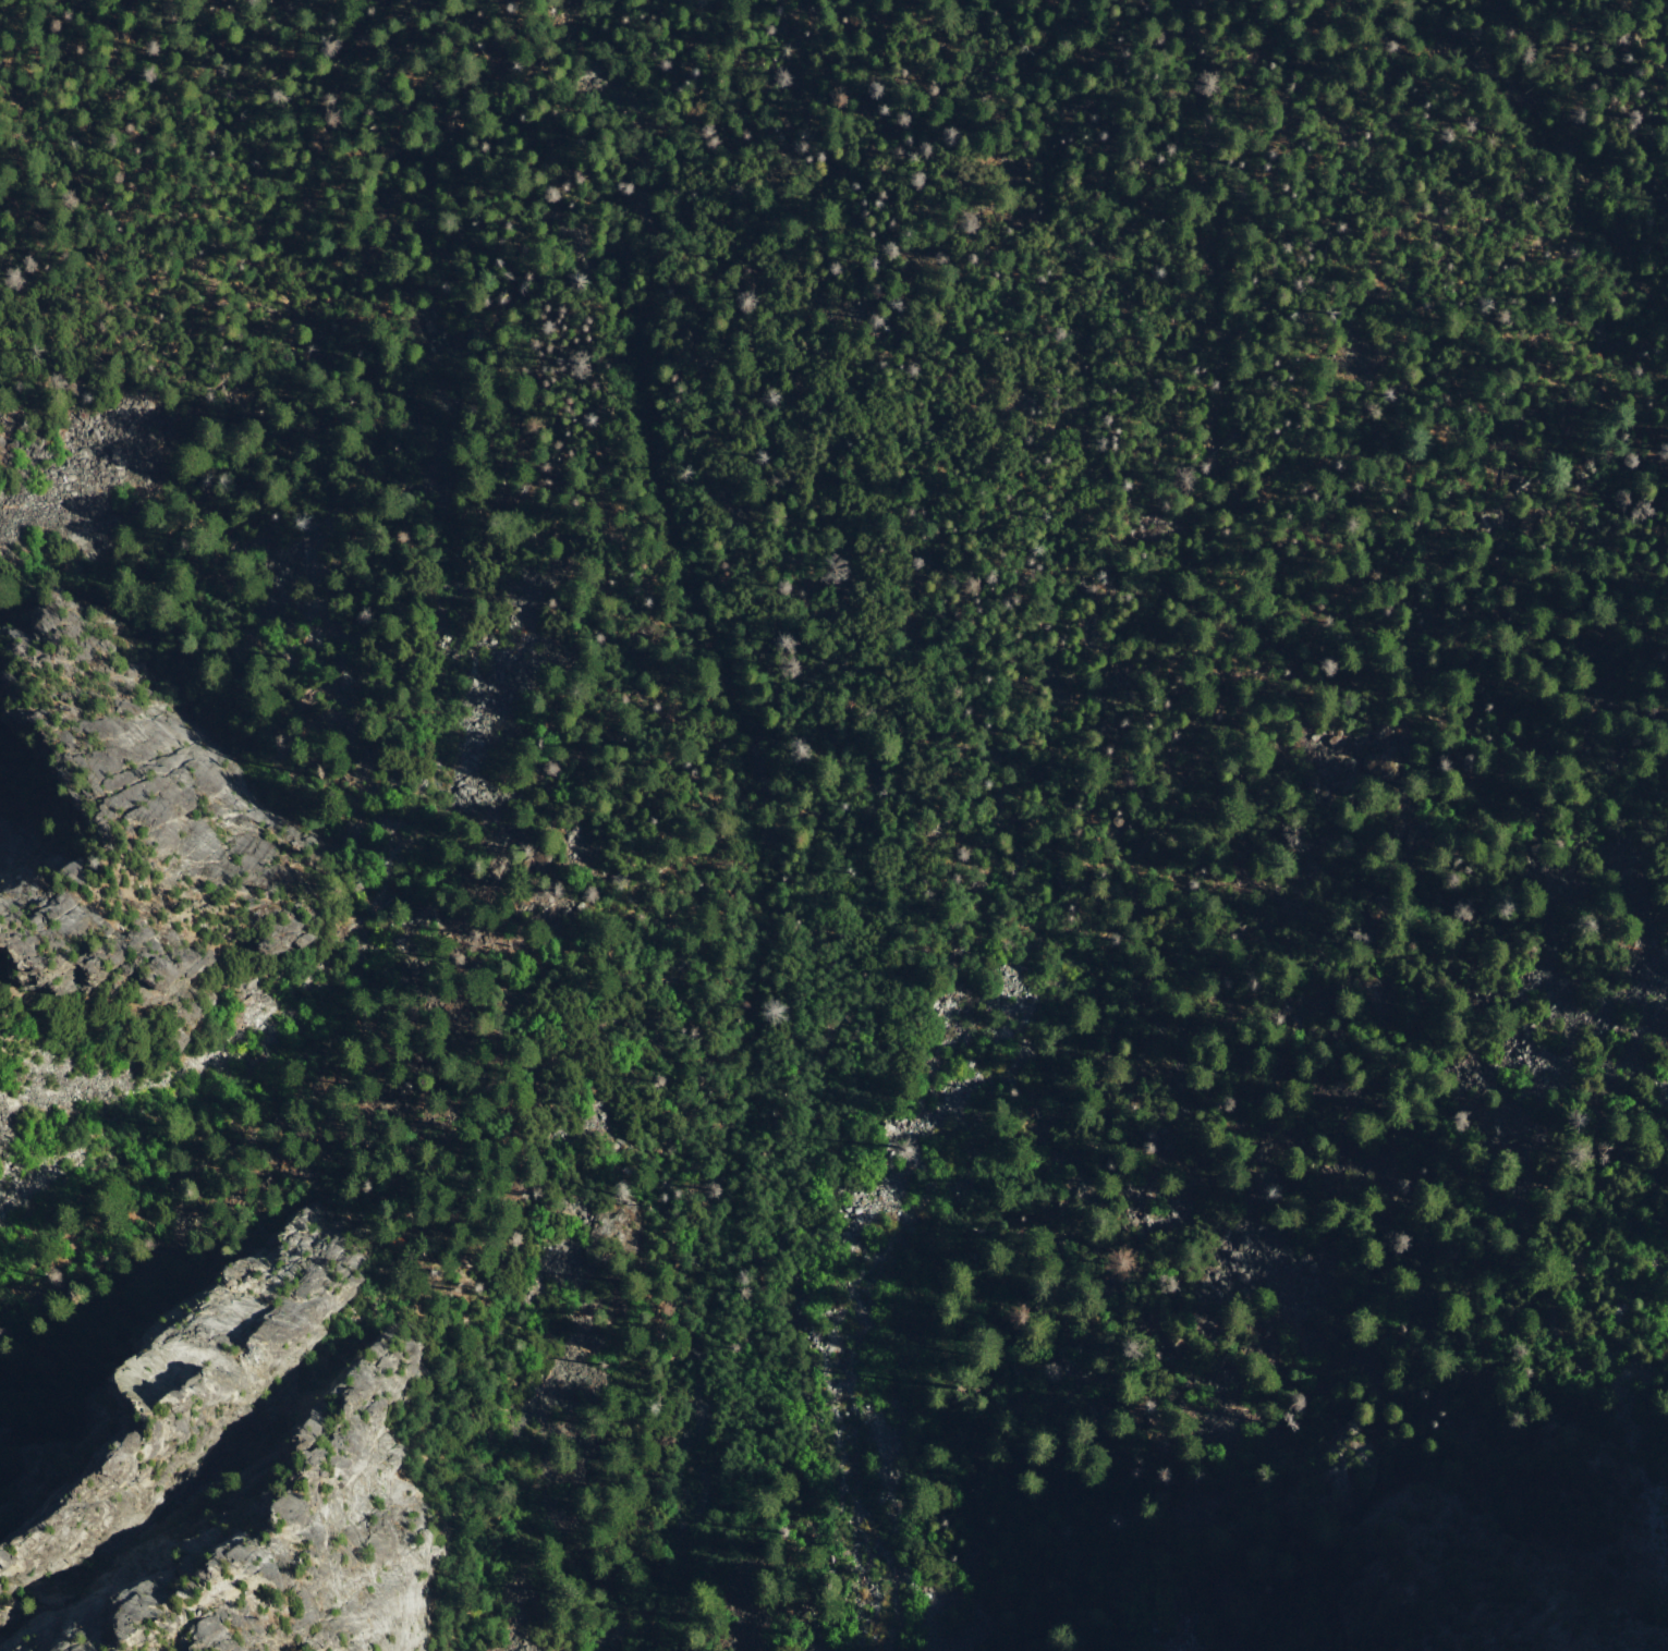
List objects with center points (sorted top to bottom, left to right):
road: (121, 110)

